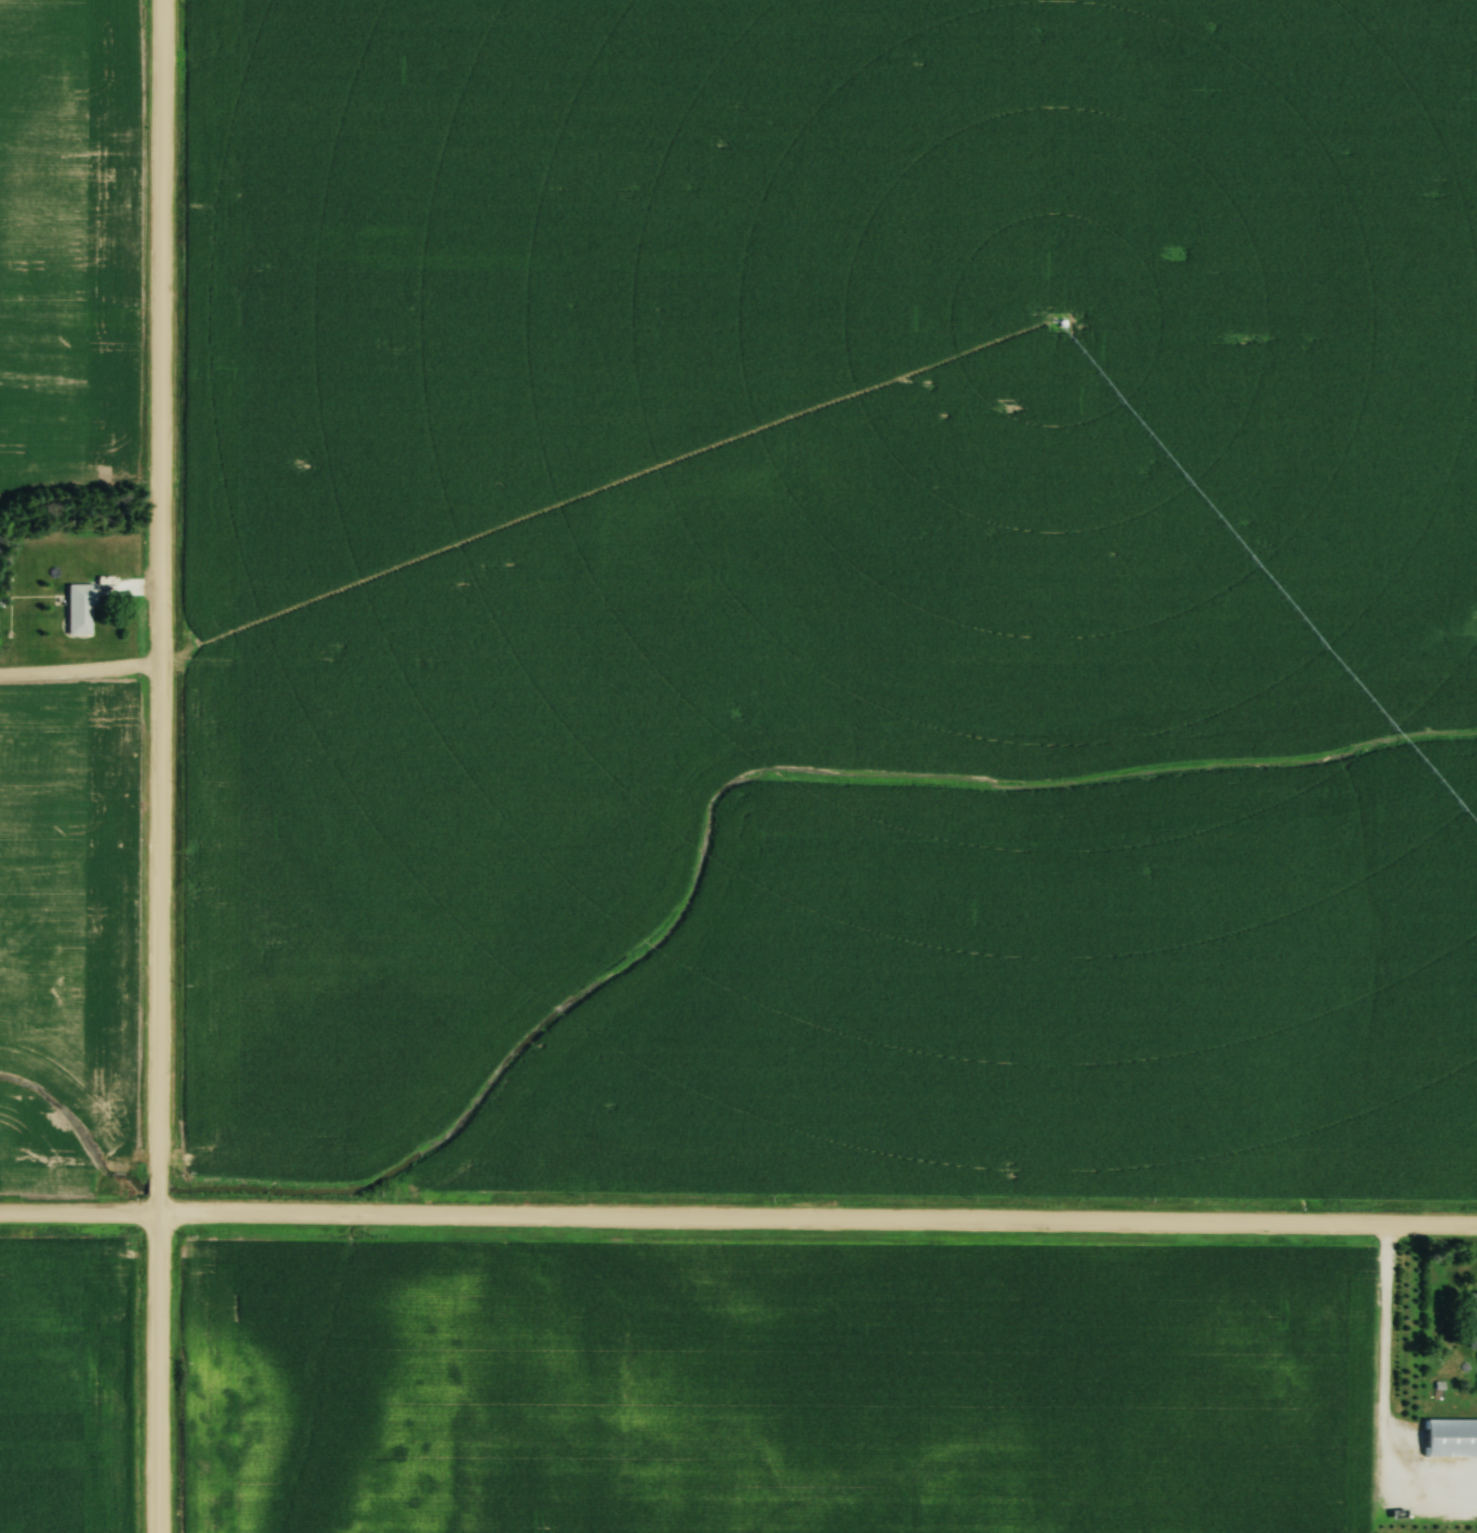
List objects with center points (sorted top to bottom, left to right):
building: (80, 609)
road: (80, 668)
road: (160, 766)
road: (738, 1219)
building: (1472, 1320)
building: (1449, 1438)

